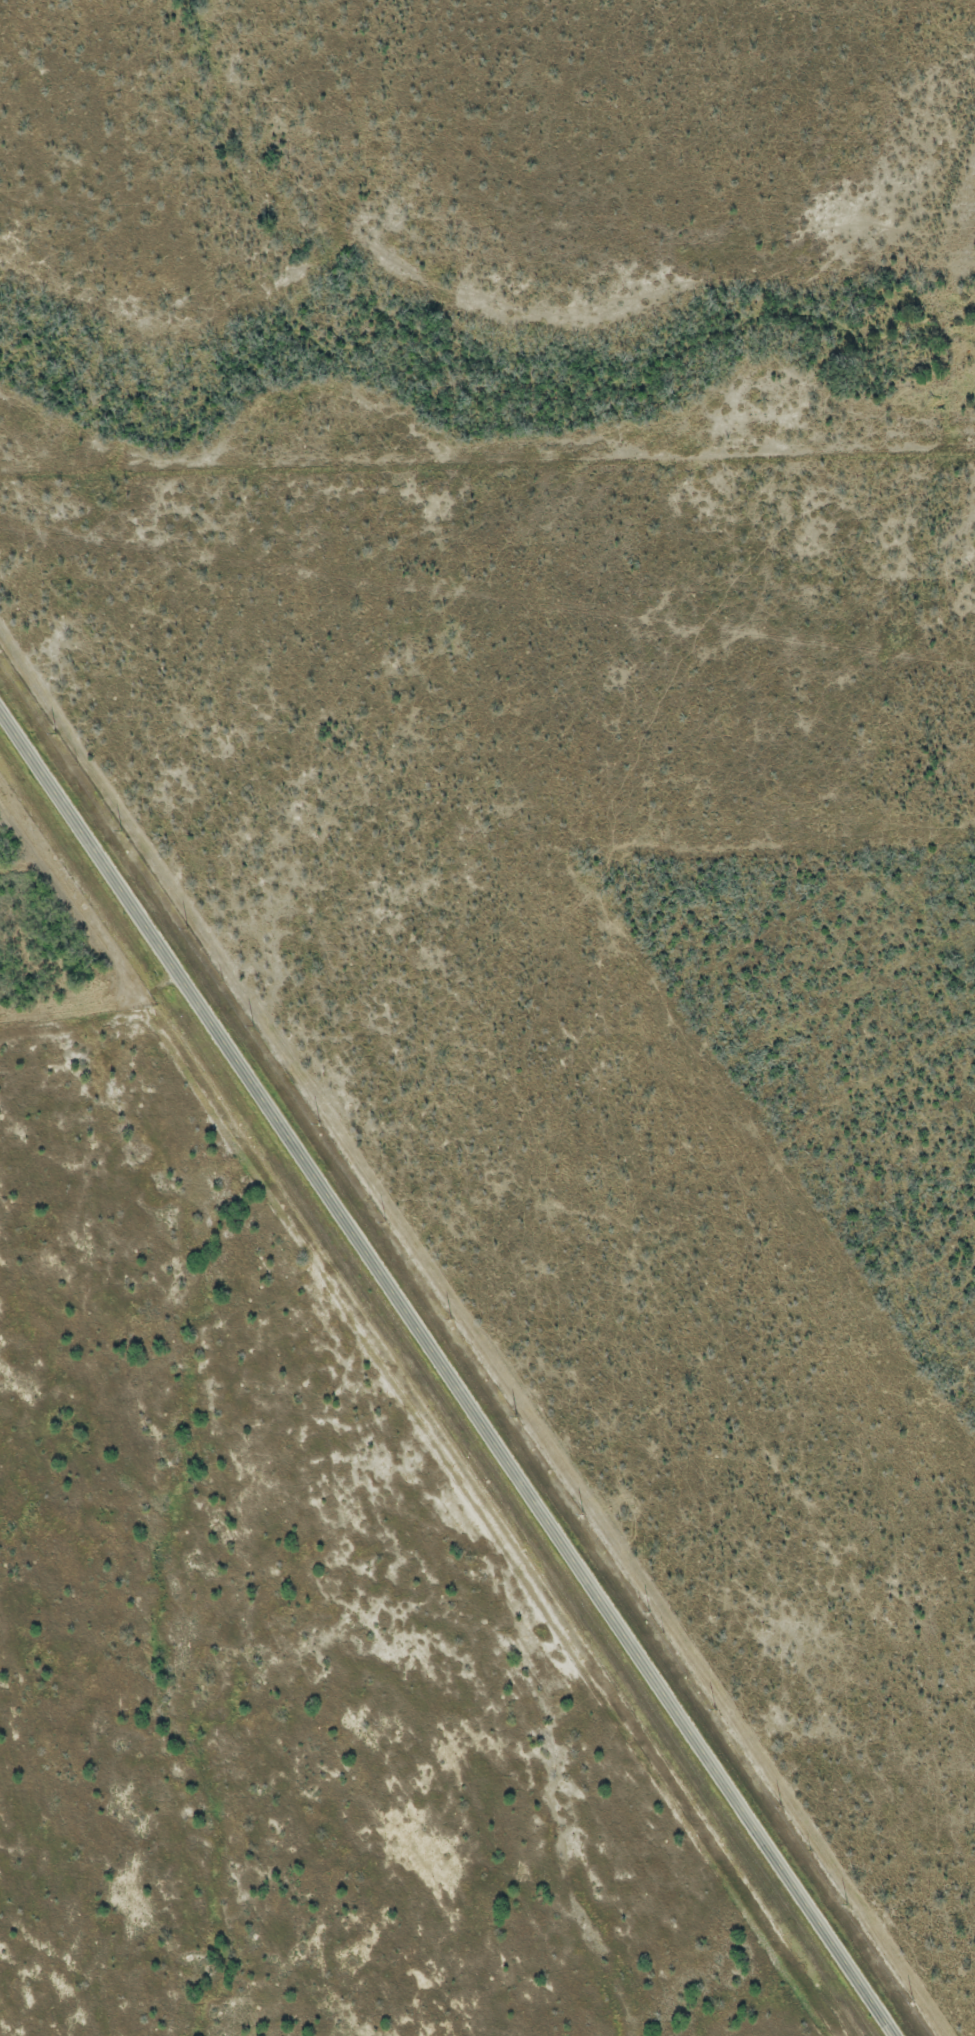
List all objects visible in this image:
road: (448, 1372)

